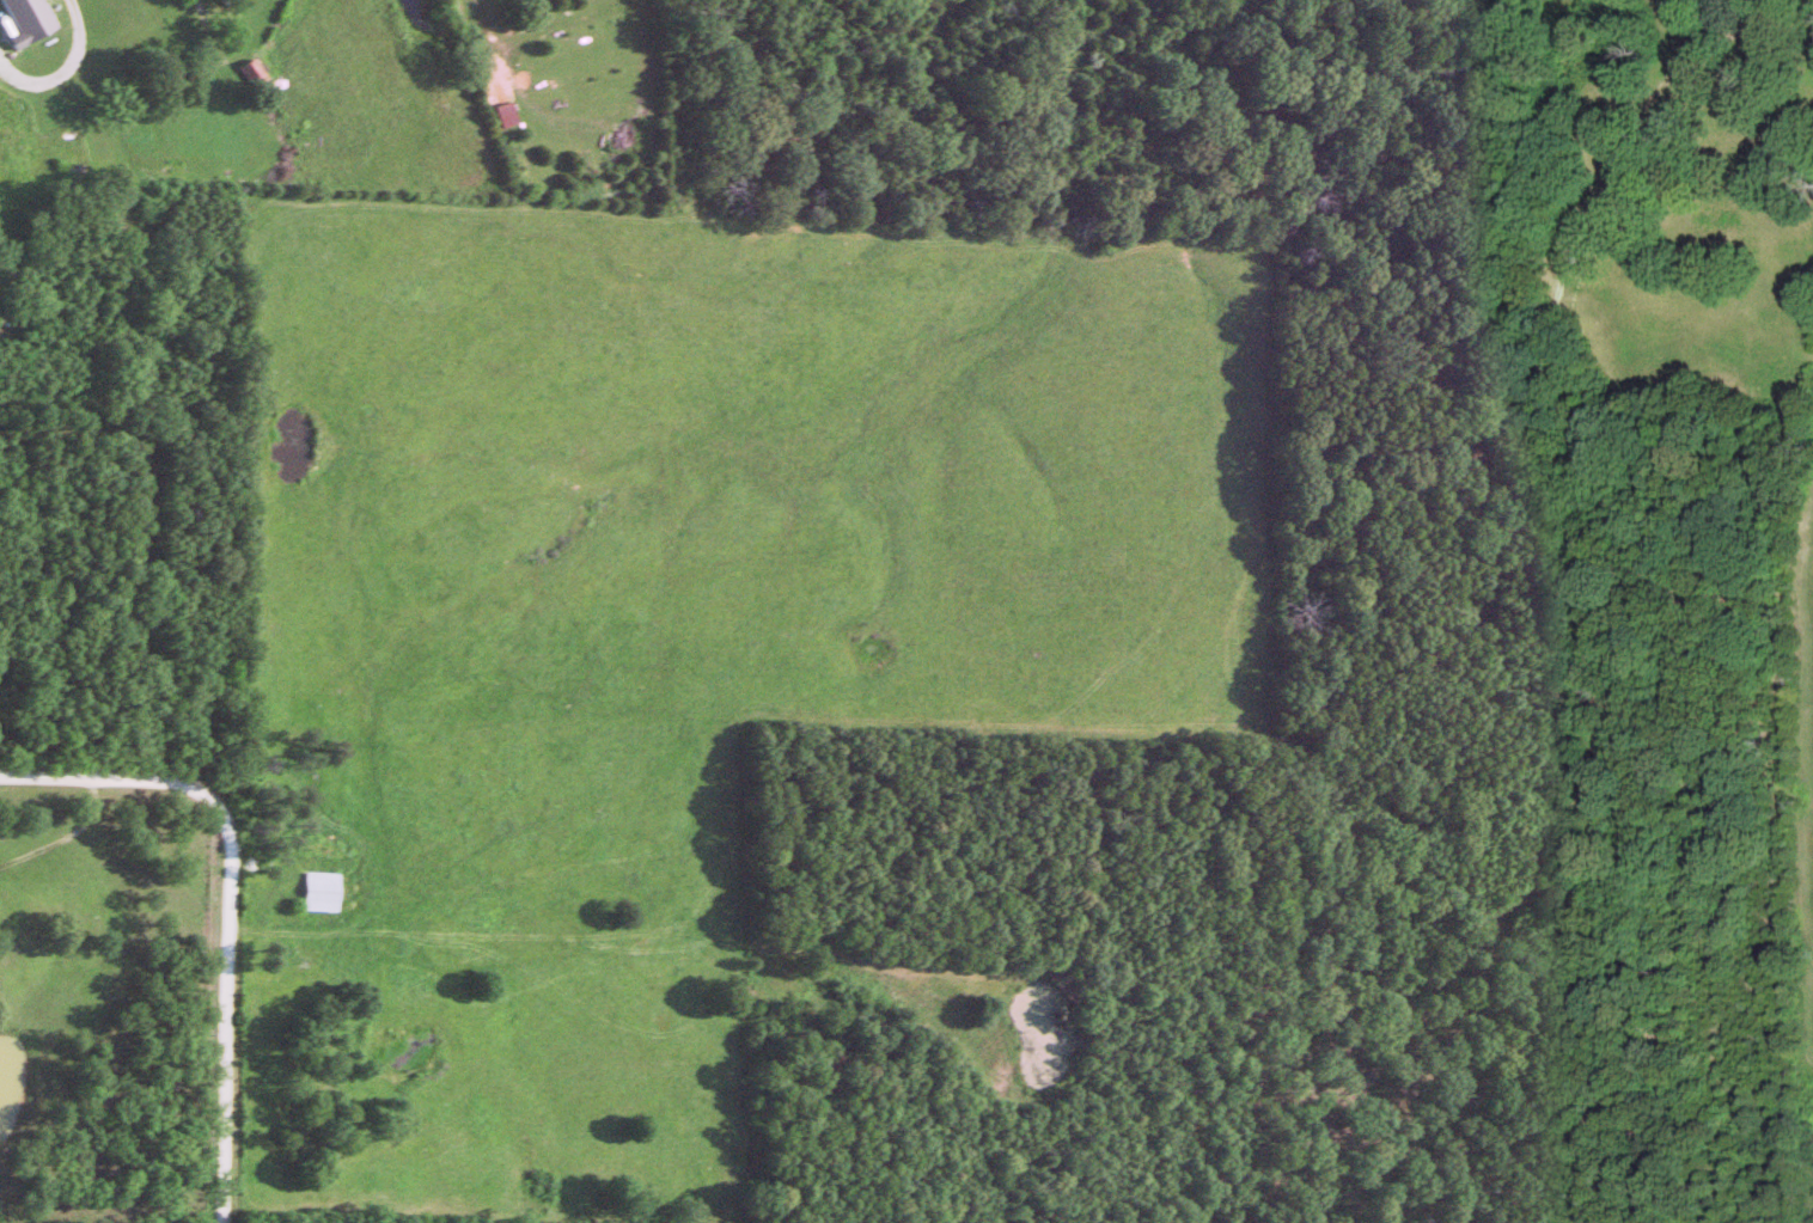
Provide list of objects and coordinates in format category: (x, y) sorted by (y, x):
building: (36, 19)
building: (326, 889)
road: (232, 895)

